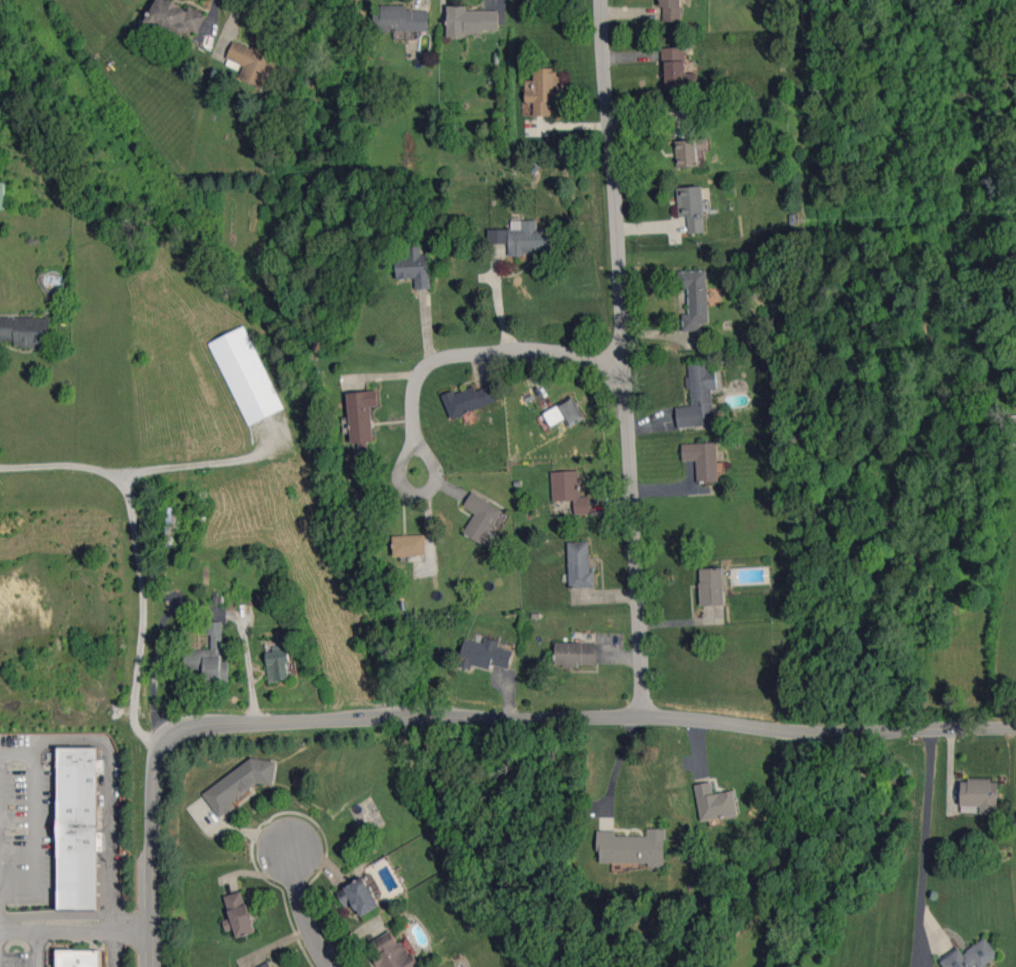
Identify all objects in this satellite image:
building: (671, 10)
building: (175, 17)
building: (400, 19)
building: (470, 21)
building: (257, 62)
building: (677, 69)
building: (542, 90)
building: (687, 153)
building: (1, 195)
building: (692, 207)
building: (521, 237)
building: (414, 267)
building: (694, 298)
building: (25, 330)
road: (487, 352)
road: (626, 356)
building: (246, 375)
building: (698, 396)
building: (468, 400)
building: (565, 413)
building: (361, 421)
building: (703, 459)
road: (194, 468)
road: (408, 485)
building: (570, 490)
building: (480, 516)
building: (172, 524)
building: (409, 545)
road: (142, 550)
building: (579, 565)
building: (711, 586)
road: (196, 605)
building: (575, 653)
building: (484, 654)
building: (209, 656)
road: (474, 716)
road: (616, 760)
road: (116, 778)
building: (240, 783)
building: (980, 794)
building: (714, 802)
building: (78, 827)
road: (4, 846)
building: (632, 847)
road: (921, 847)
building: (359, 896)
road: (307, 912)
building: (238, 914)
road: (60, 918)
road: (77, 925)
road: (34, 947)
building: (394, 952)
building: (970, 956)
building: (80, 959)
building: (266, 964)

